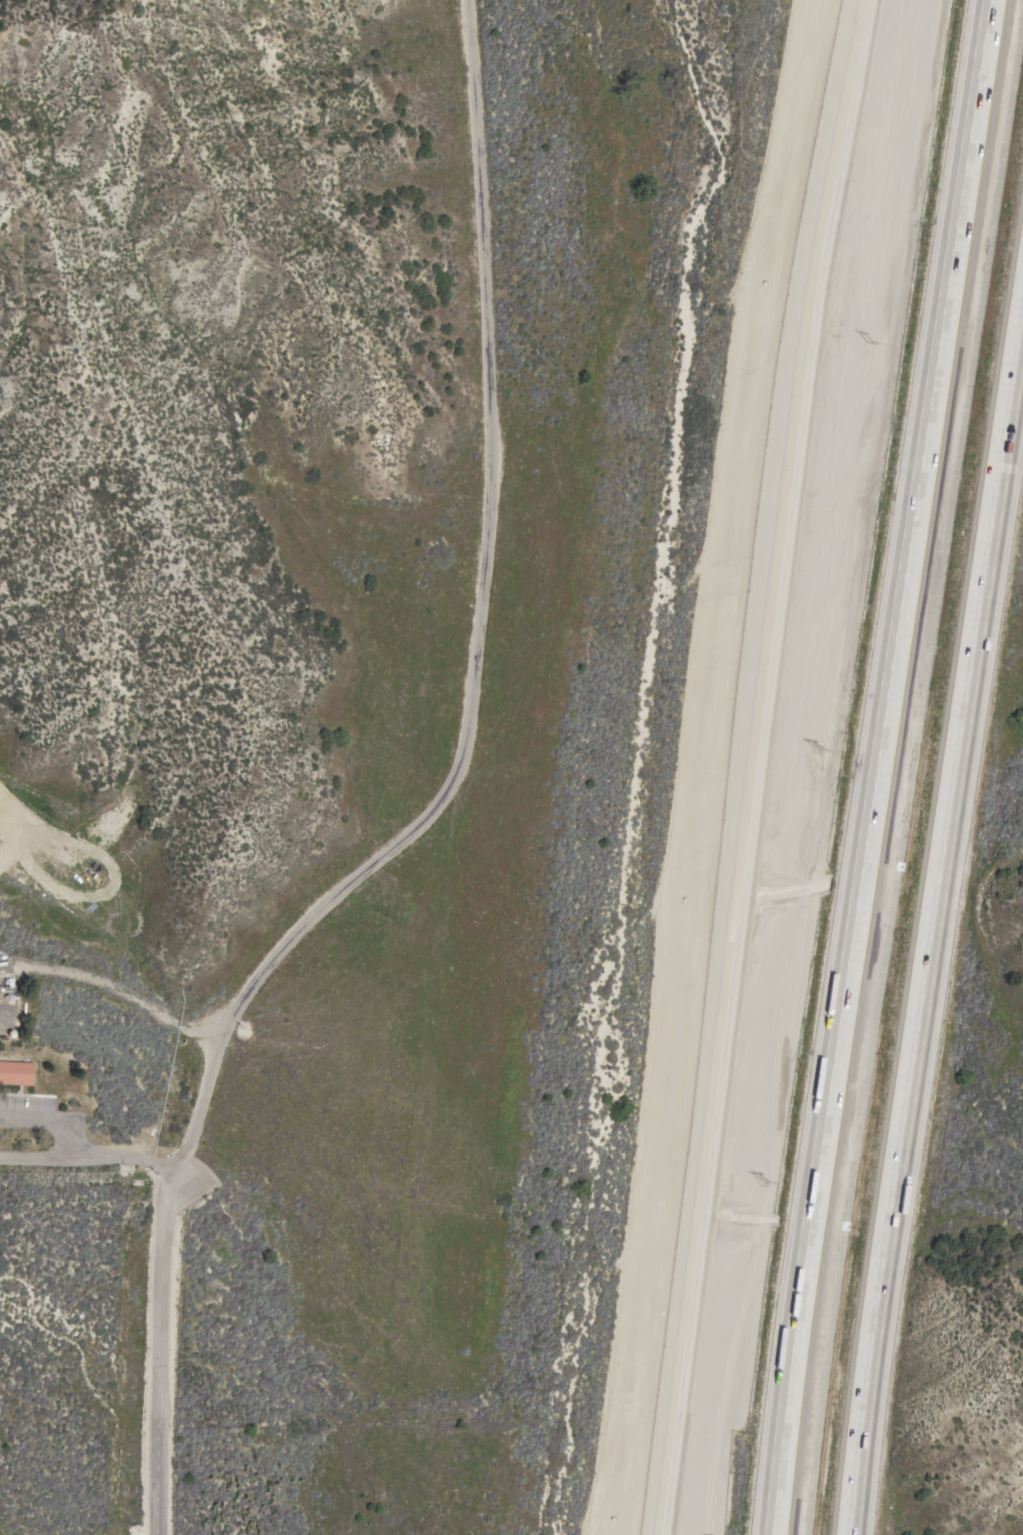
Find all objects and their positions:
road: (478, 143)
power tower: (885, 341)
power tower: (828, 759)
road: (877, 767)
road: (322, 902)
road: (932, 925)
road: (113, 990)
building: (15, 1073)
road: (90, 1159)
power tower: (767, 1188)

